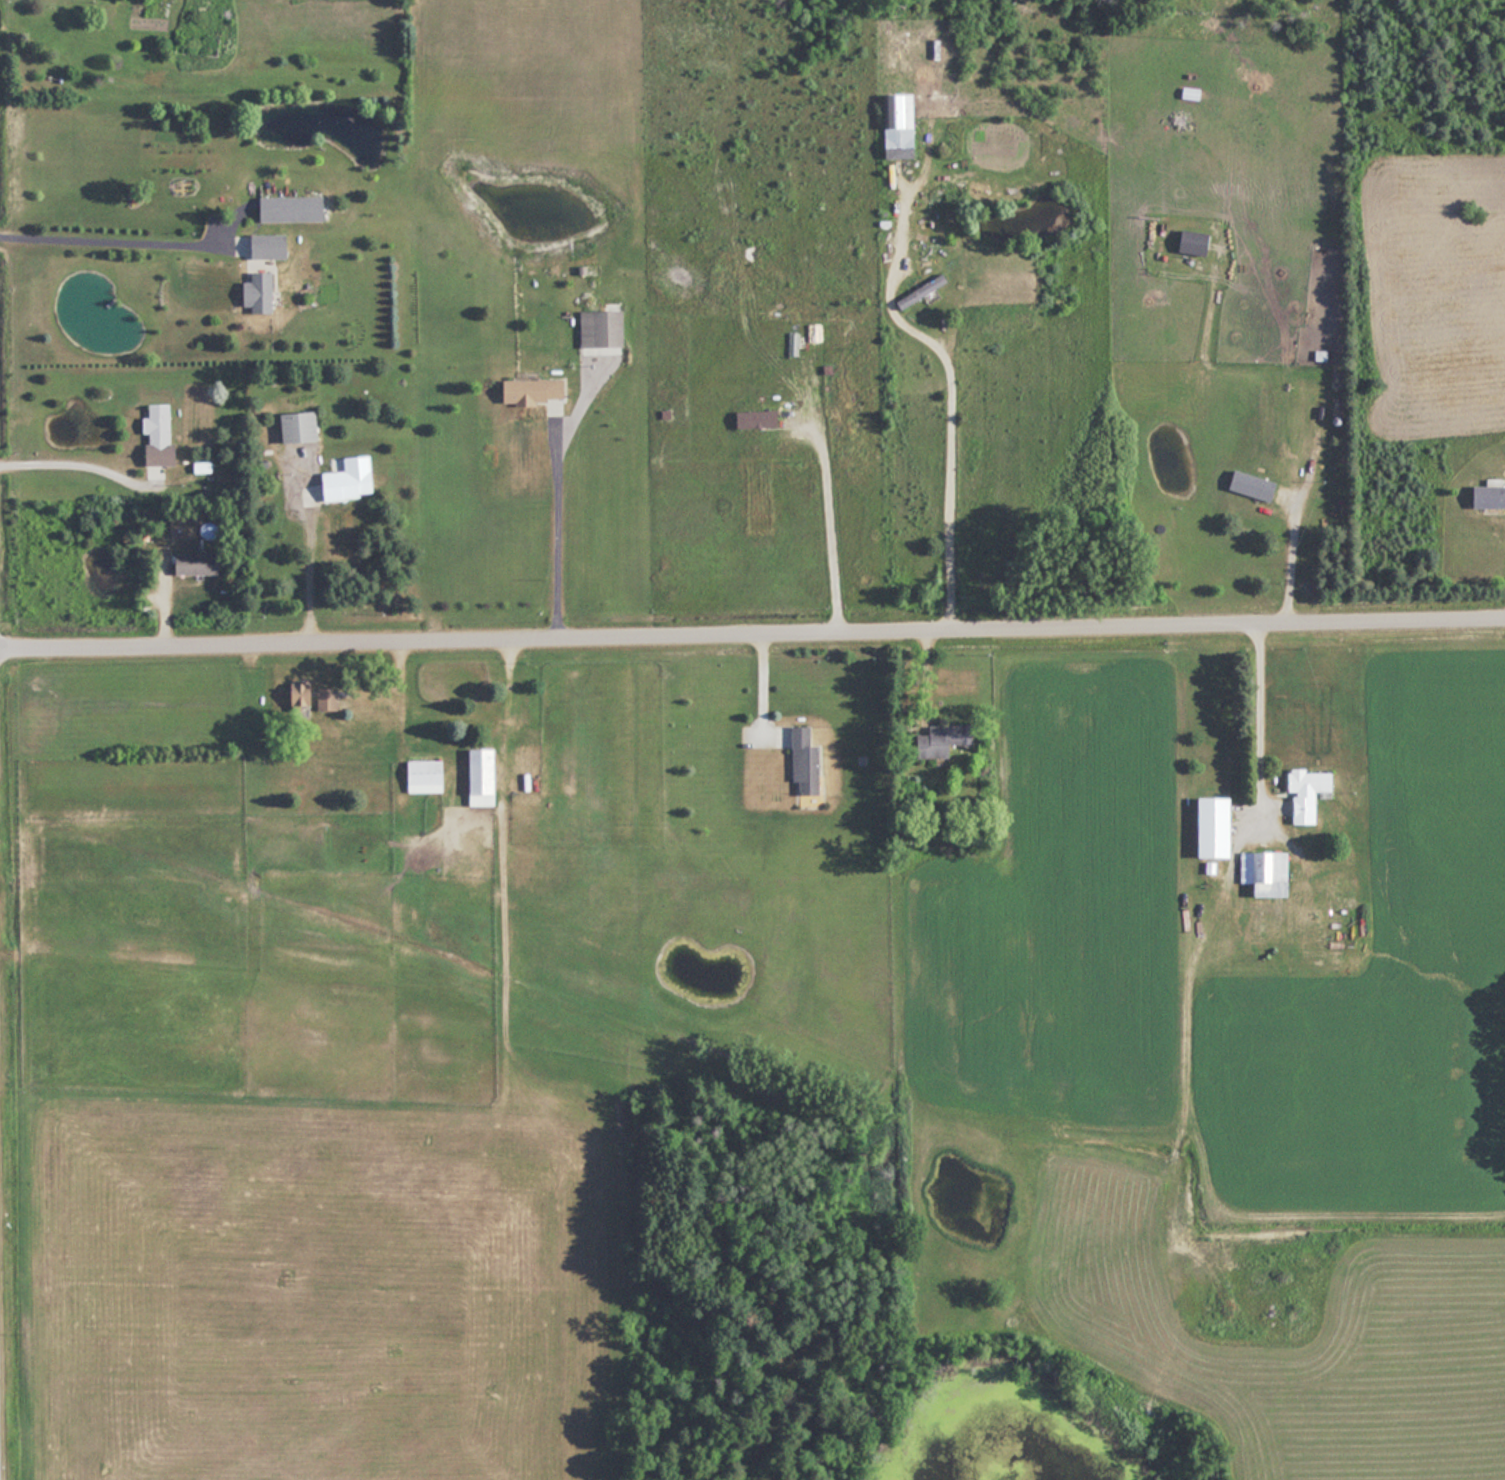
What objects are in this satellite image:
building: (202, 20)
building: (1190, 93)
building: (901, 124)
road: (112, 236)
building: (1196, 242)
building: (271, 246)
building: (262, 293)
building: (604, 329)
building: (537, 391)
road: (951, 400)
building: (759, 418)
building: (303, 427)
building: (161, 435)
road: (80, 464)
building: (350, 484)
building: (1255, 484)
building: (1489, 495)
road: (828, 526)
road: (556, 527)
building: (200, 564)
road: (309, 564)
road: (752, 637)
building: (304, 695)
building: (328, 699)
road: (1257, 726)
building: (943, 740)
building: (807, 762)
building: (428, 777)
building: (486, 777)
building: (1313, 782)
building: (1219, 828)
building: (1268, 873)

